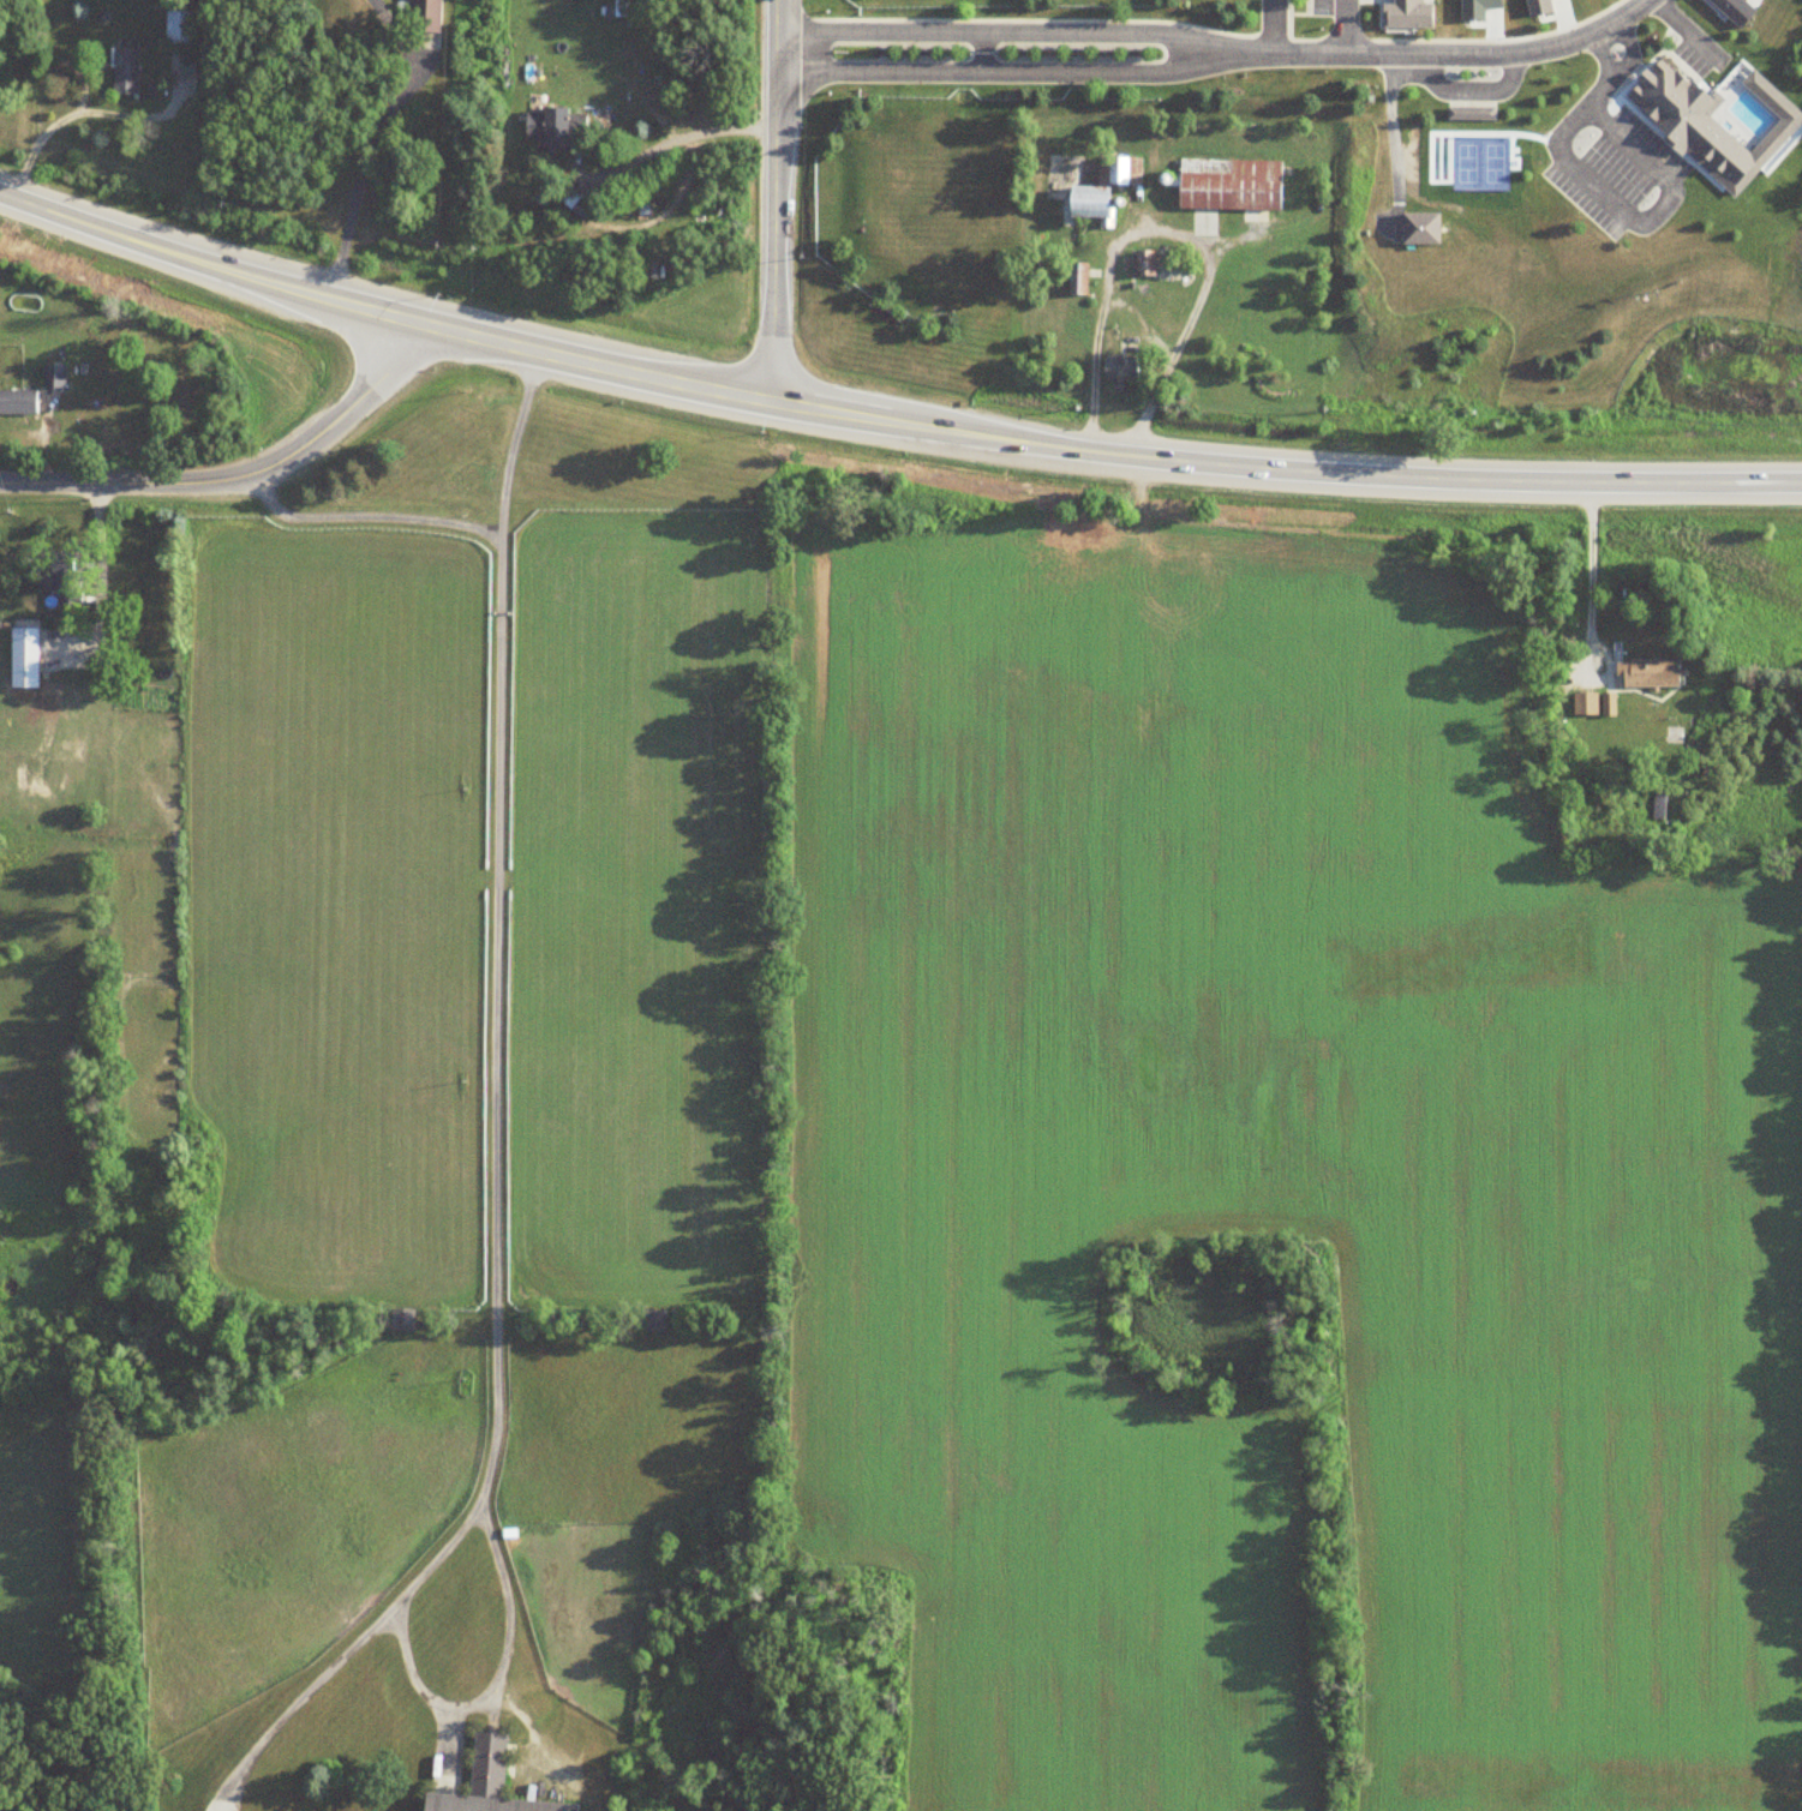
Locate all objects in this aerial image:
building: (424, 16)
road: (1275, 26)
road: (1693, 26)
building: (178, 28)
road: (1345, 28)
road: (1603, 48)
road: (1234, 54)
road: (1445, 55)
building: (124, 67)
road: (84, 89)
building: (1668, 98)
building: (1469, 112)
building: (547, 126)
road: (675, 137)
road: (369, 139)
road: (1389, 139)
building: (1116, 169)
building: (1228, 184)
road: (1600, 187)
building: (1086, 200)
road: (776, 202)
building: (1419, 227)
road: (1168, 232)
building: (1143, 263)
building: (1077, 278)
road: (1144, 322)
building: (1119, 368)
building: (52, 376)
building: (17, 401)
road: (887, 420)
road: (243, 478)
road: (367, 515)
road: (1586, 559)
building: (58, 581)
road: (97, 586)
building: (22, 656)
building: (1646, 671)
building: (1584, 702)
building: (1660, 804)
road: (495, 1107)
building: (401, 1320)
building: (652, 1321)
road: (498, 1674)
building: (487, 1783)

